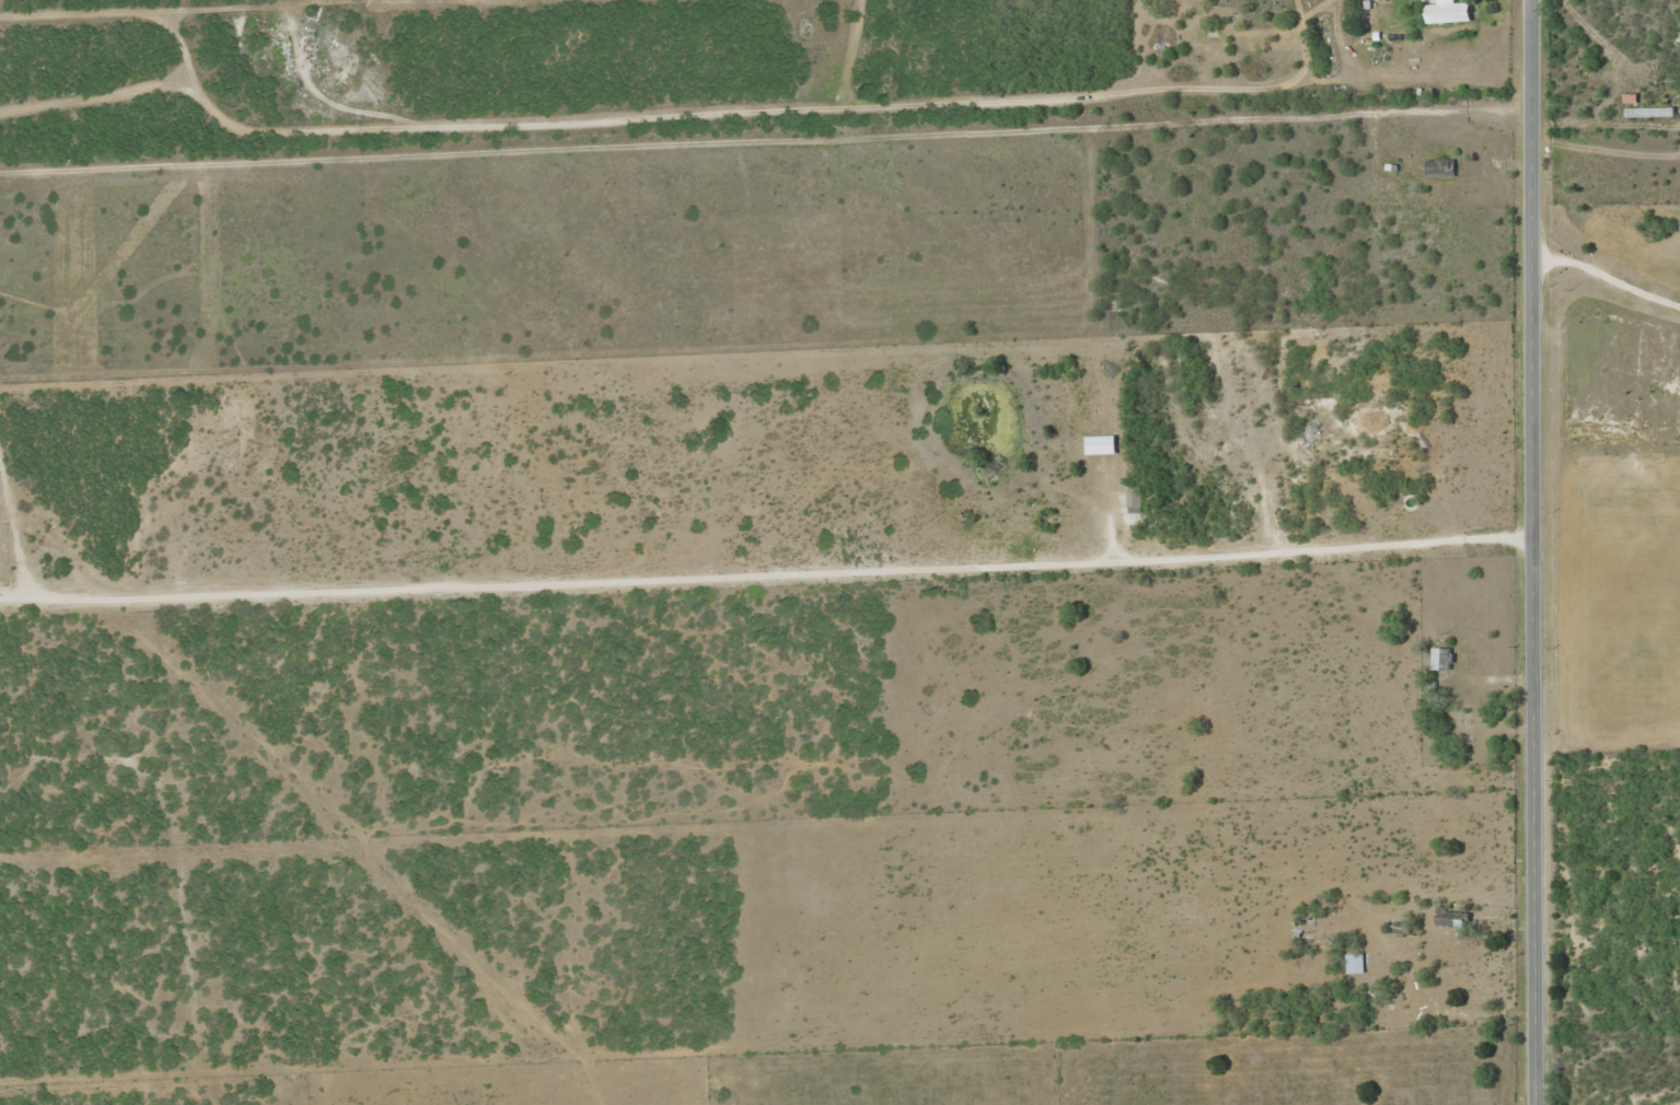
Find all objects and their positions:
building: (1449, 11)
building: (1647, 111)
building: (1439, 167)
road: (1534, 552)
building: (1441, 658)
building: (1463, 730)
building: (1449, 915)
building: (1354, 962)

